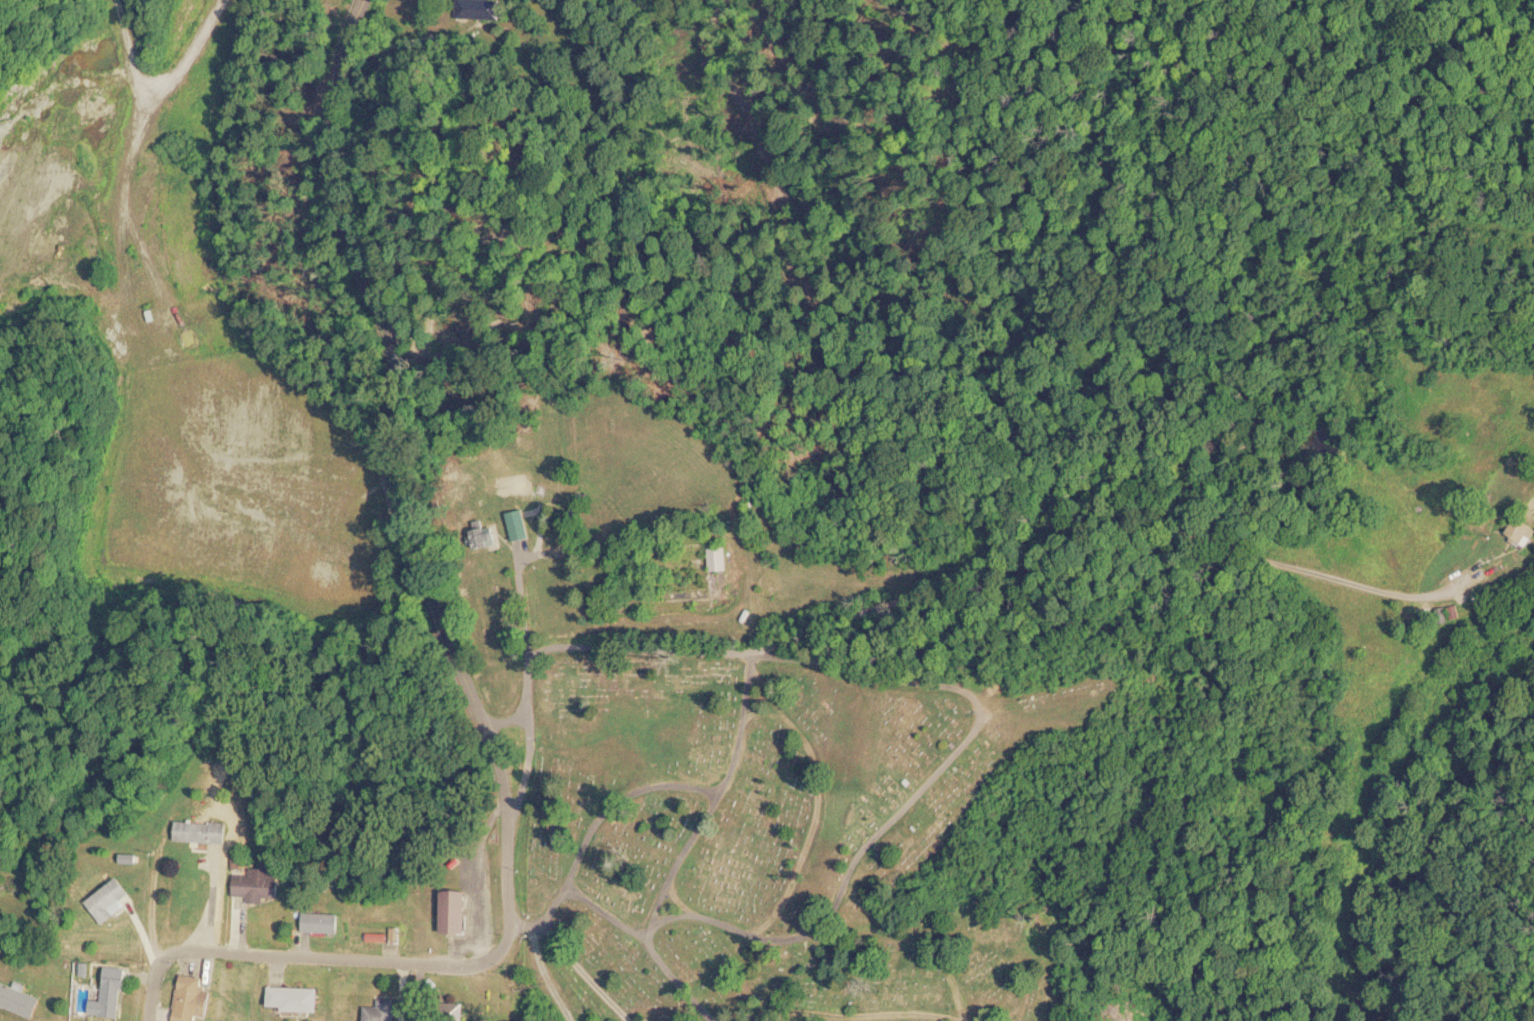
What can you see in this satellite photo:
building: (480, 9)
road: (381, 351)
park: (2, 446)
building: (517, 525)
building: (1523, 529)
building: (486, 535)
building: (717, 558)
road: (539, 590)
road: (735, 649)
road: (510, 672)
road: (920, 793)
road: (713, 798)
road: (499, 808)
road: (594, 824)
building: (202, 832)
park: (855, 833)
building: (258, 885)
building: (111, 901)
building: (455, 911)
building: (322, 922)
road: (650, 940)
road: (316, 961)
building: (193, 999)
building: (297, 999)
building: (20, 1000)
building: (110, 1002)
building: (383, 1011)

